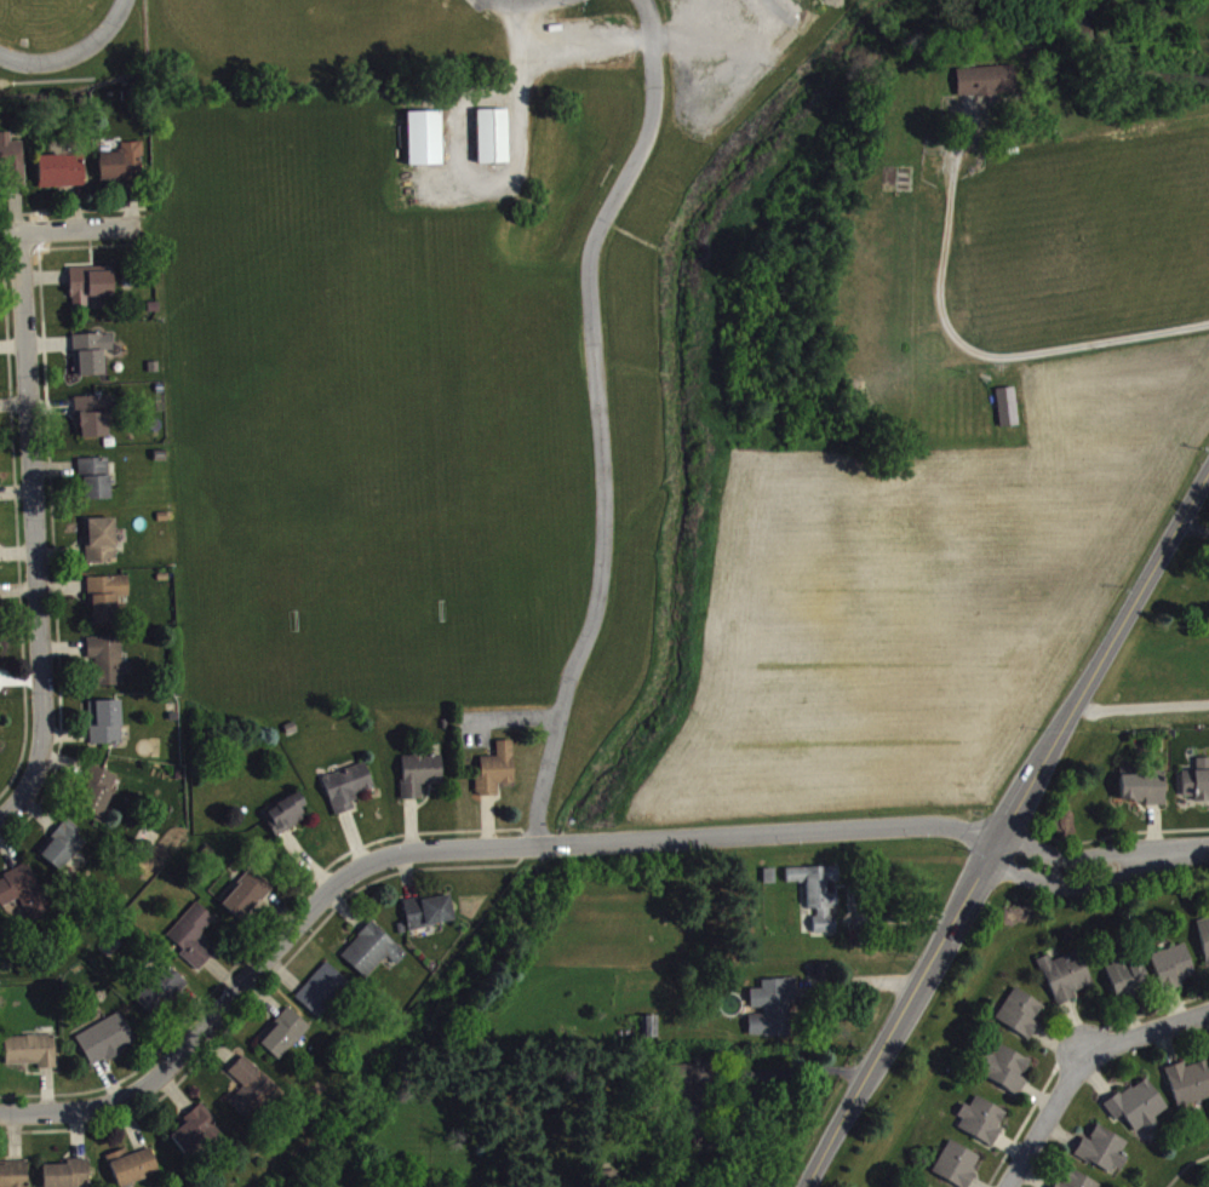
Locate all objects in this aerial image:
road: (518, 1)
track: (98, 36)
building: (986, 87)
building: (494, 143)
building: (425, 144)
building: (12, 166)
building: (124, 170)
building: (63, 177)
road: (70, 230)
building: (91, 292)
building: (92, 360)
building: (1008, 413)
road: (597, 418)
building: (94, 422)
building: (96, 484)
road: (36, 537)
building: (103, 547)
building: (108, 606)
building: (108, 666)
building: (0, 683)
building: (107, 729)
building: (0, 753)
building: (495, 776)
building: (420, 780)
building: (1198, 789)
building: (1142, 792)
building: (348, 793)
building: (98, 799)
building: (288, 819)
road: (1003, 827)
road: (447, 845)
building: (64, 851)
road: (1100, 868)
building: (24, 898)
building: (820, 900)
building: (247, 901)
building: (430, 918)
building: (194, 942)
building: (1205, 944)
building: (373, 957)
building: (1174, 973)
building: (1129, 981)
building: (1067, 982)
building: (322, 996)
building: (161, 997)
building: (774, 1014)
building: (1021, 1020)
building: (652, 1033)
building: (285, 1040)
building: (107, 1046)
building: (33, 1057)
road: (1079, 1062)
building: (1008, 1076)
road: (760, 1080)
building: (1190, 1089)
building: (686, 1090)
building: (252, 1095)
building: (1140, 1112)
building: (985, 1128)
building: (698, 1129)
building: (195, 1137)
building: (1105, 1157)
road: (1184, 1166)
building: (958, 1169)
building: (133, 1171)
building: (68, 1177)
building: (13, 1179)
building: (1078, 1183)
building: (1056, 1186)

